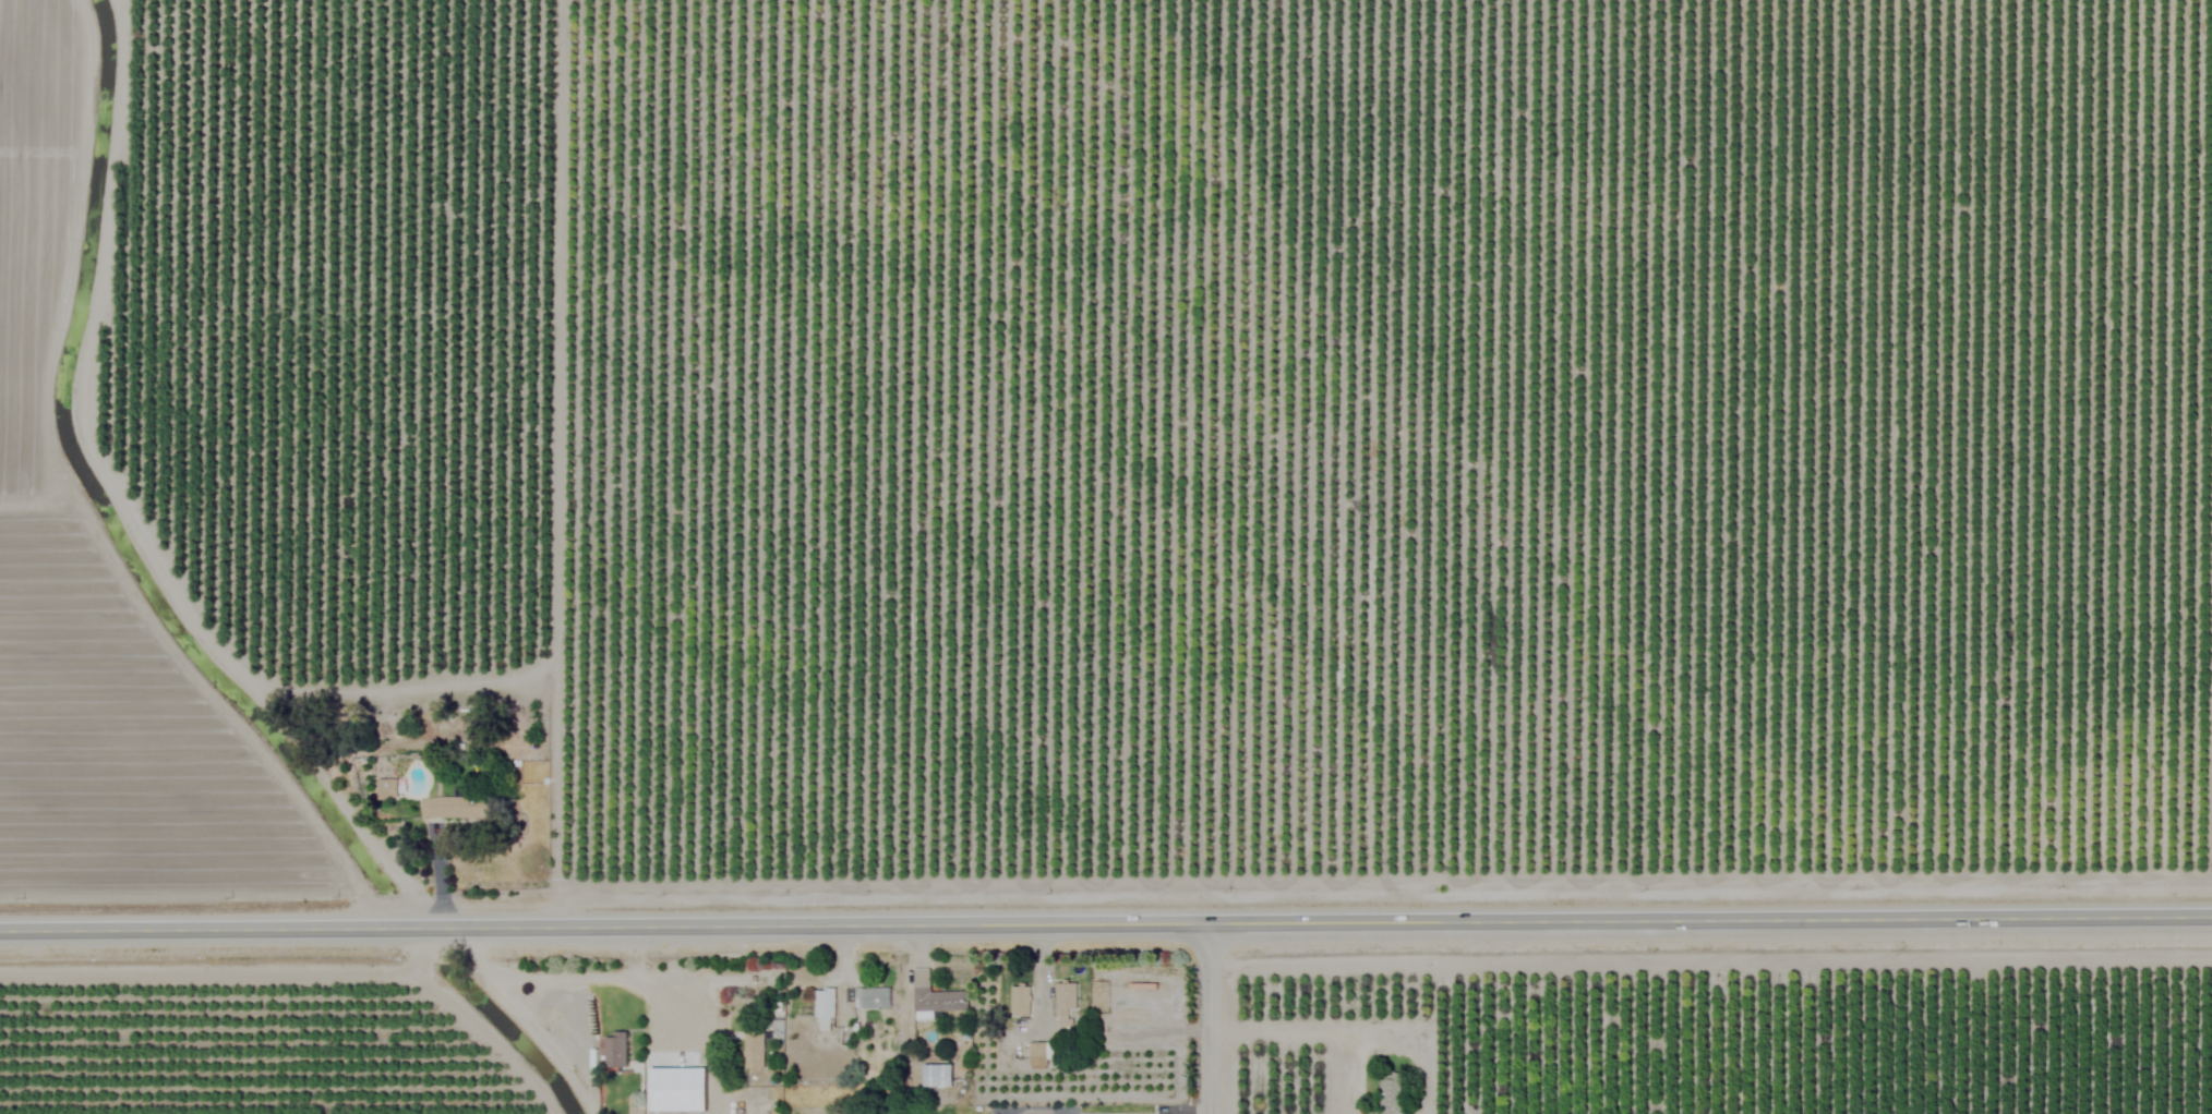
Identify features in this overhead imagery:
crop: (1117, 424)
road: (132, 506)
building: (383, 788)
building: (441, 808)
road: (434, 881)
road: (1105, 935)
road: (615, 981)
building: (931, 993)
building: (868, 995)
building: (1015, 1000)
building: (1062, 1002)
building: (820, 1007)
road: (1212, 1025)
road: (1309, 1028)
crop: (1832, 1034)
crop: (237, 1043)
building: (611, 1048)
building: (749, 1048)
building: (1033, 1049)
building: (933, 1074)
building: (672, 1088)
building: (1386, 1092)
building: (1365, 1113)

